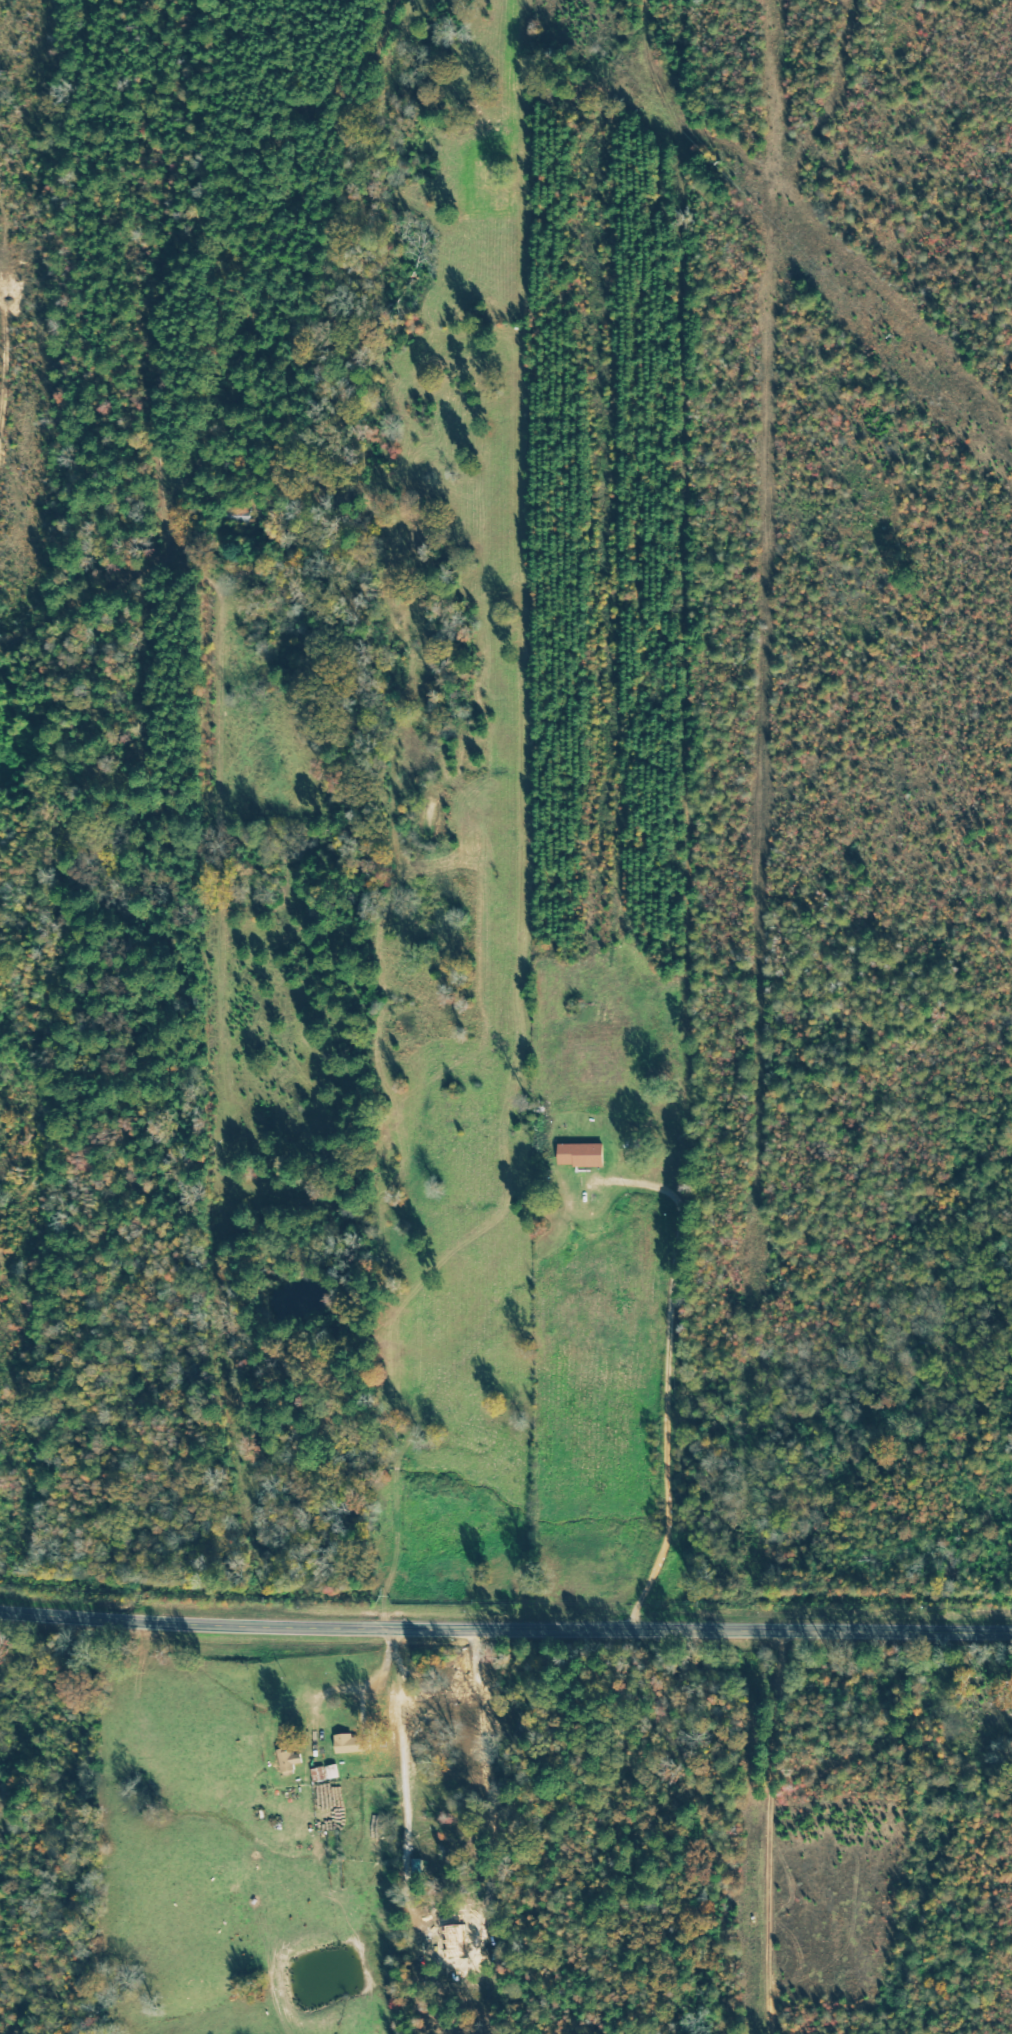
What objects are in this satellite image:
road: (124, 564)
road: (112, 899)
building: (579, 1156)
road: (669, 1380)
road: (505, 1630)
building: (355, 1744)
building: (292, 1761)
building: (332, 1773)

